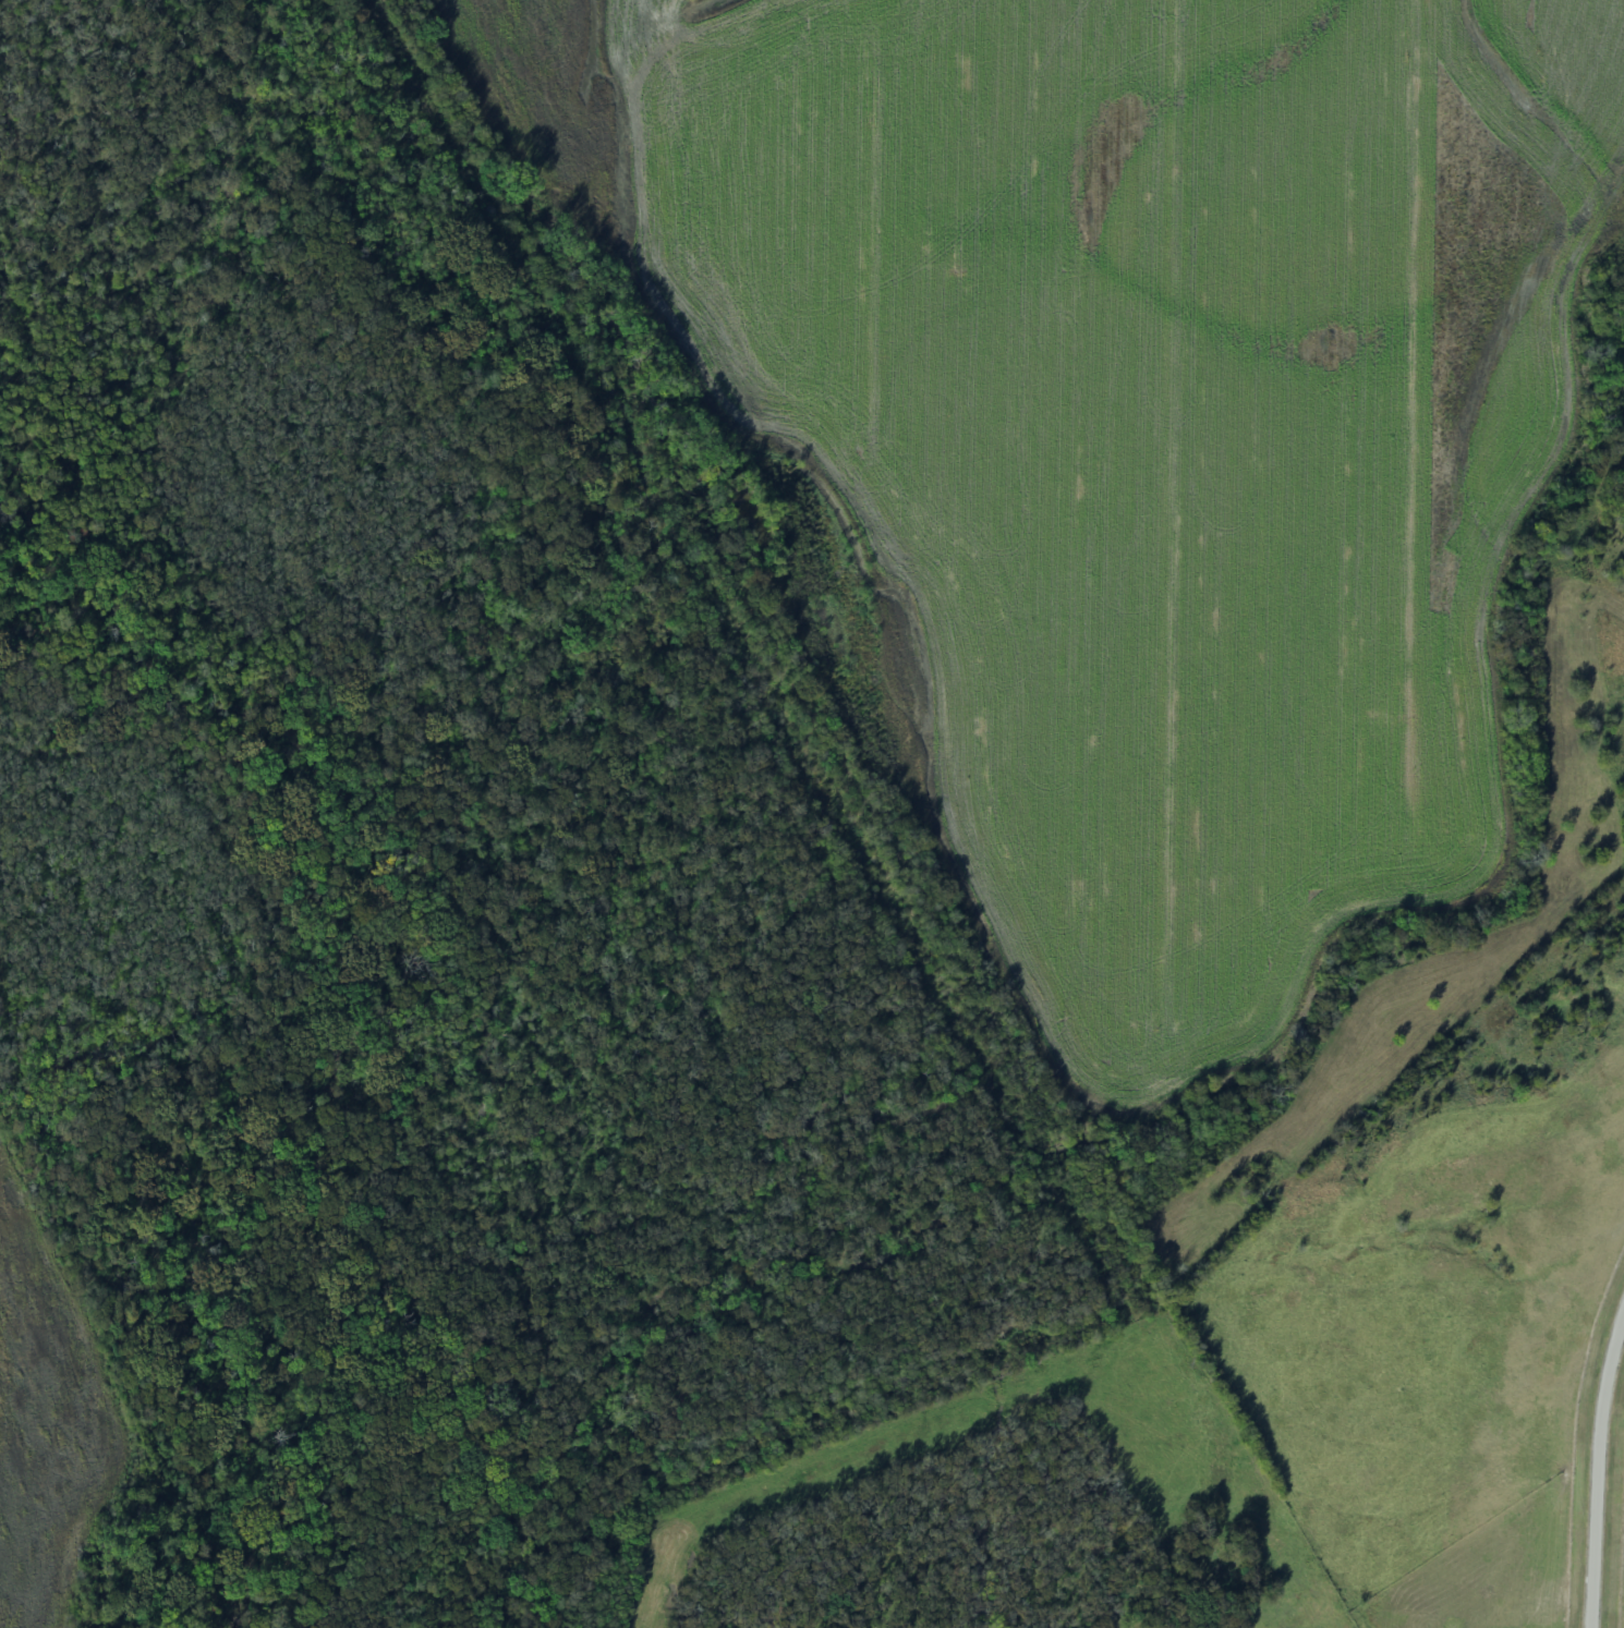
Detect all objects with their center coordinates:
road: (1600, 1467)

